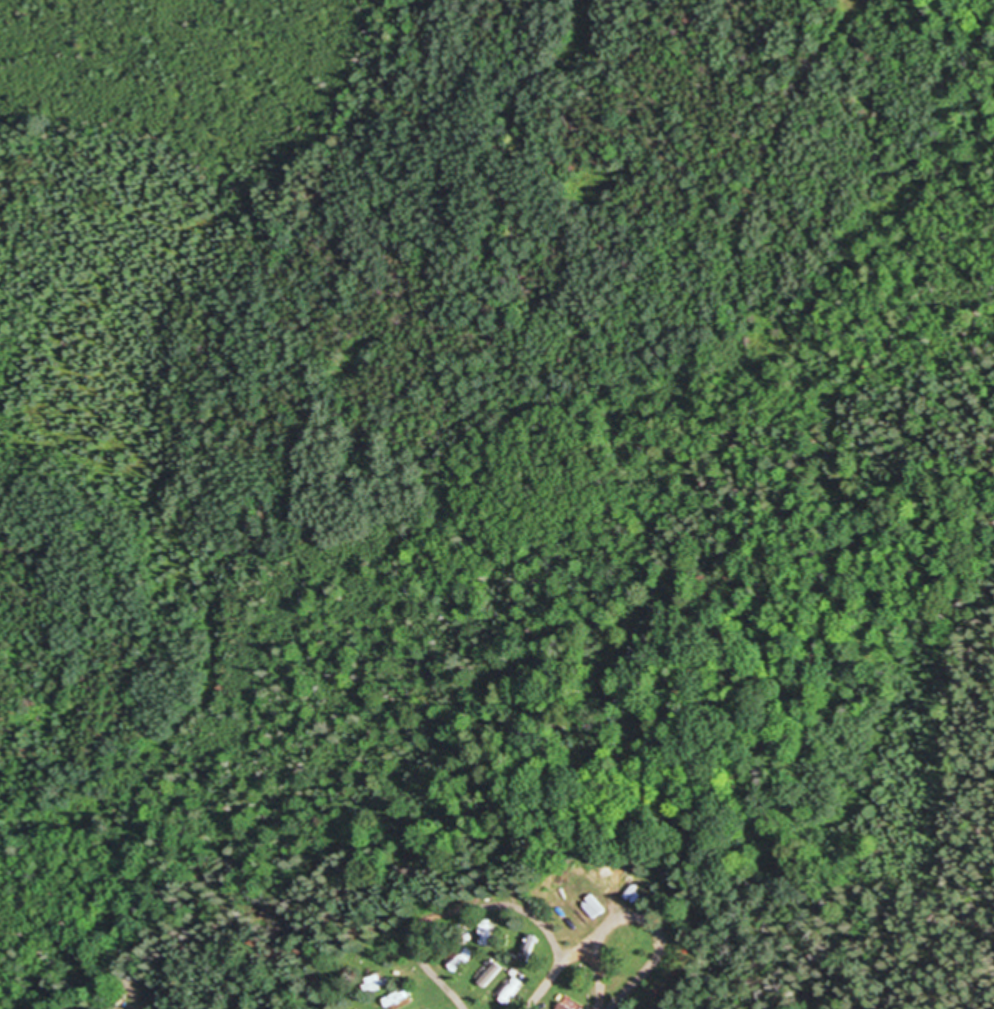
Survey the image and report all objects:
park: (976, 469)
building: (487, 933)
building: (522, 950)
building: (463, 959)
building: (375, 985)
building: (398, 999)
building: (567, 1005)

